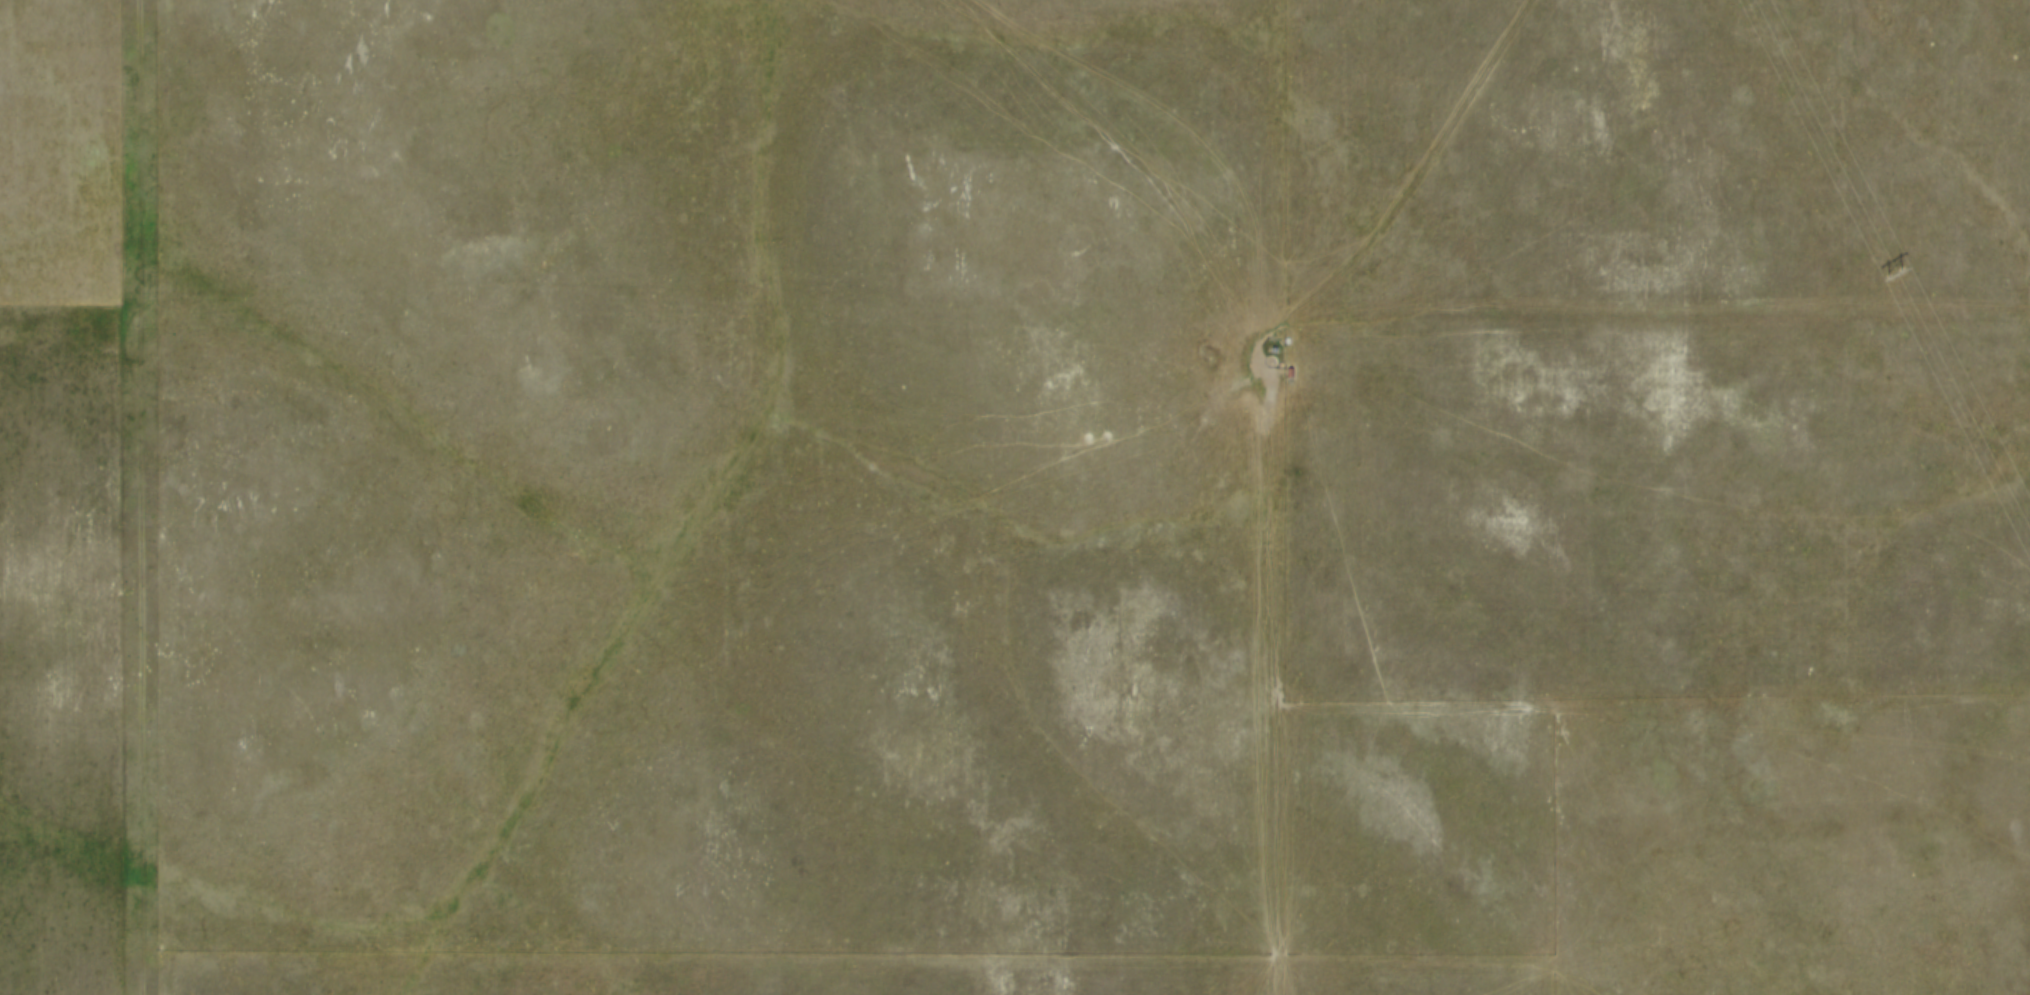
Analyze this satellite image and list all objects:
power tower: (1892, 275)

